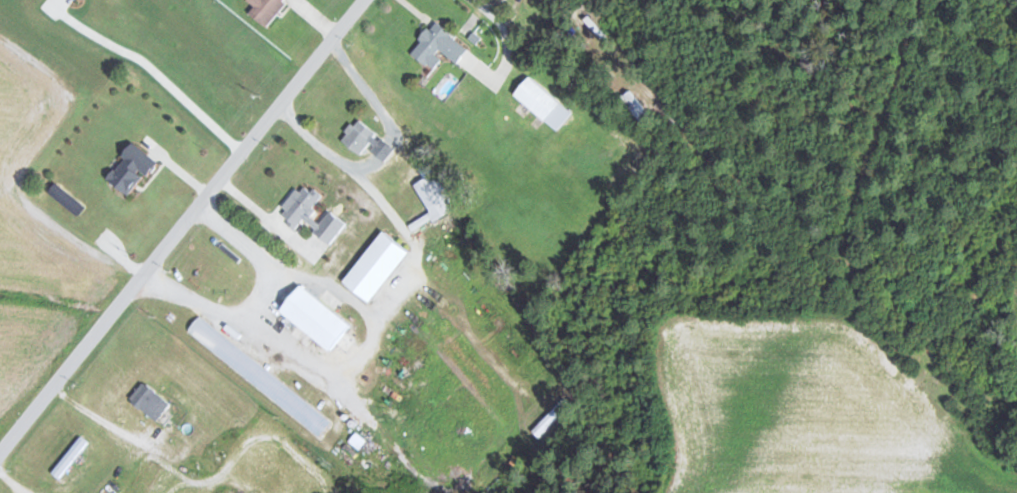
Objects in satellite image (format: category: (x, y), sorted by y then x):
building: (267, 10)
building: (439, 46)
building: (545, 103)
building: (359, 136)
building: (436, 196)
building: (296, 211)
road: (179, 226)
building: (379, 266)
building: (318, 317)
road: (844, 400)
building: (550, 416)
building: (69, 456)

